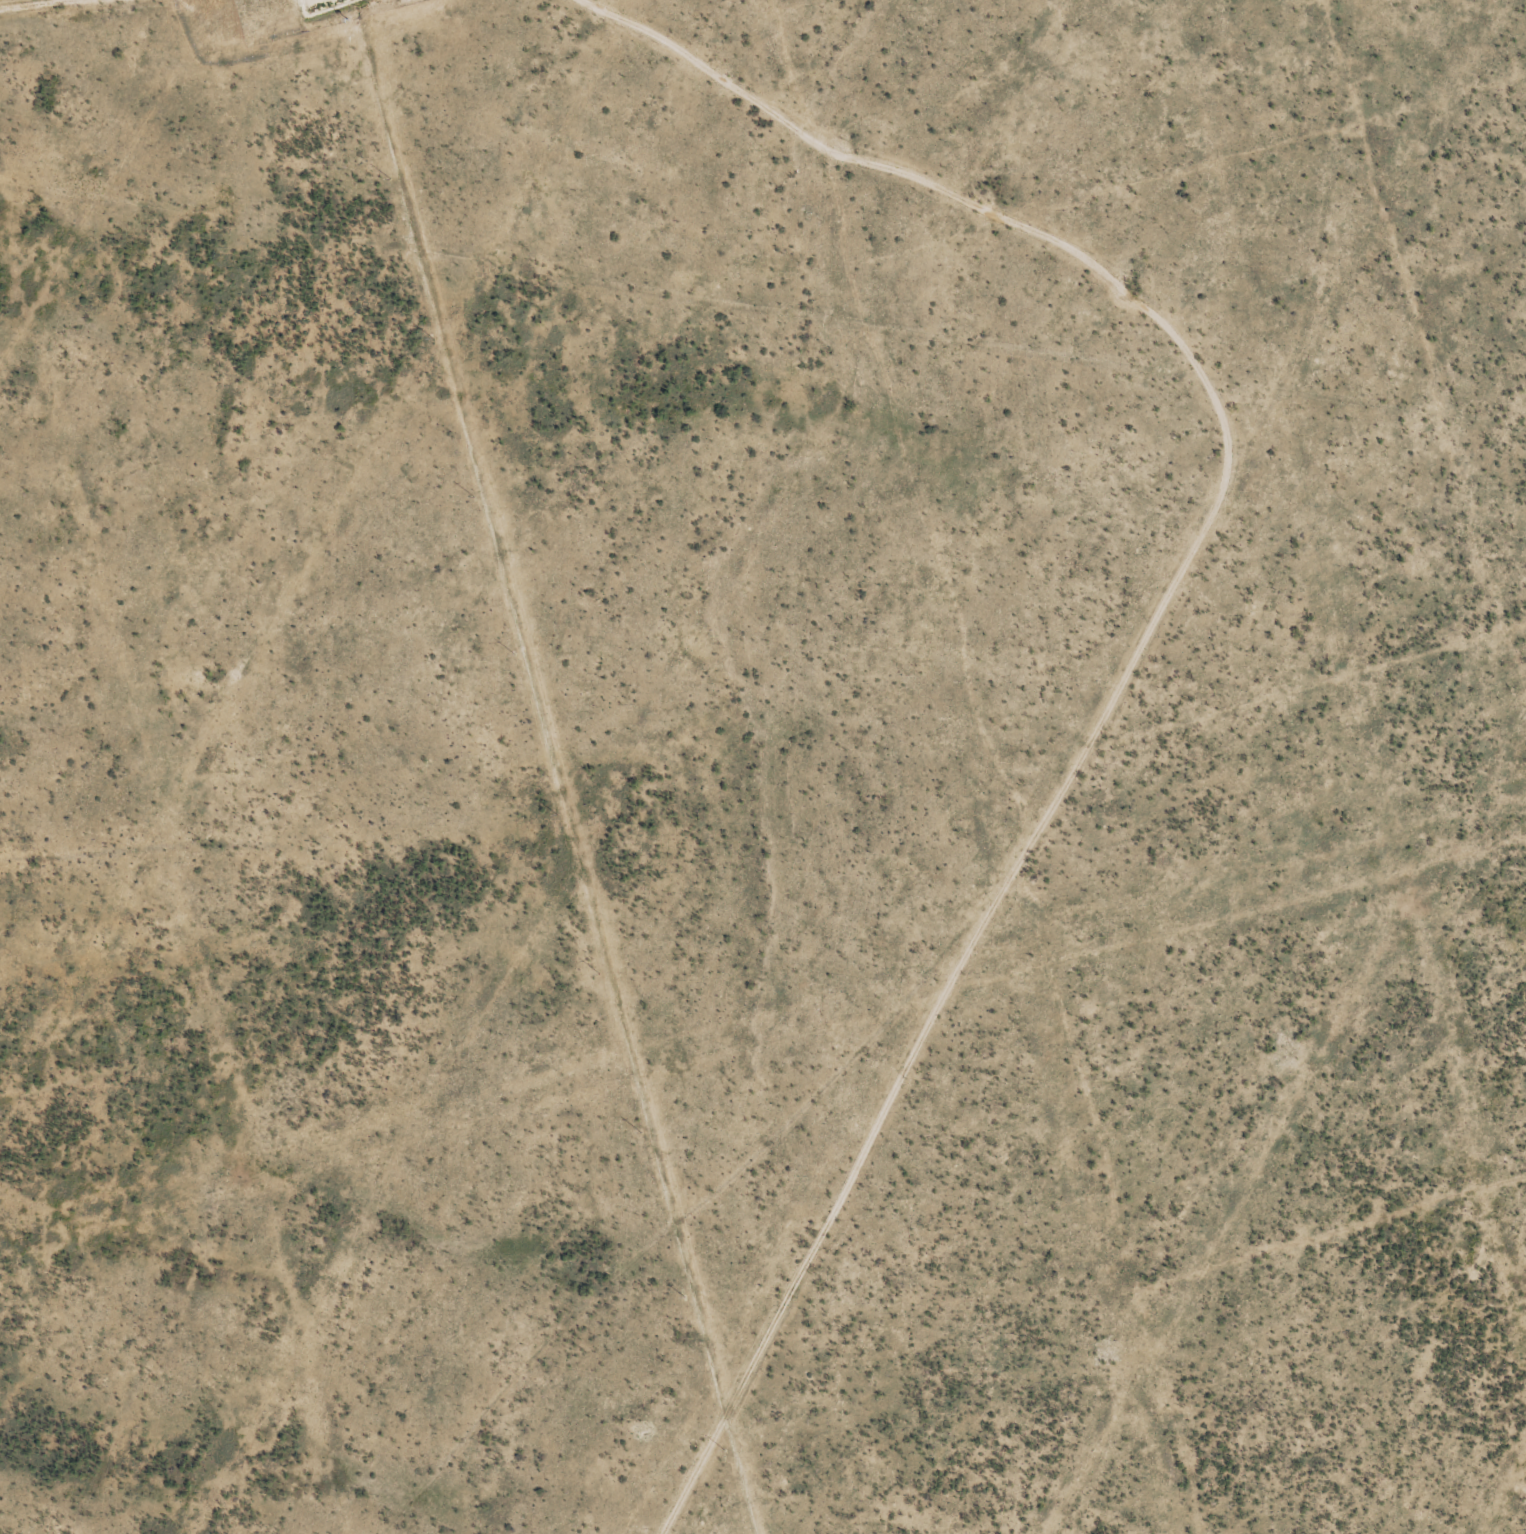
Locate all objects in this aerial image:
road: (1186, 350)
road: (808, 1255)
road: (701, 1262)

